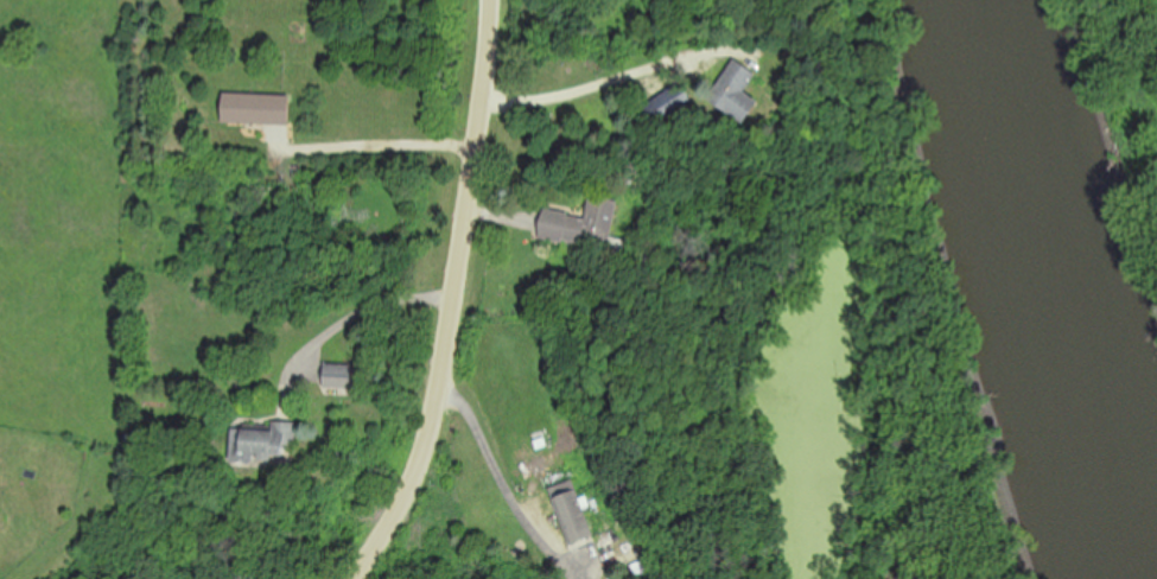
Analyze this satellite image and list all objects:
road: (603, 85)
building: (736, 93)
building: (667, 107)
building: (256, 110)
road: (382, 145)
building: (583, 225)
river: (1000, 291)
road: (457, 295)
road: (350, 318)
building: (339, 376)
building: (267, 443)
road: (513, 488)
building: (577, 516)

